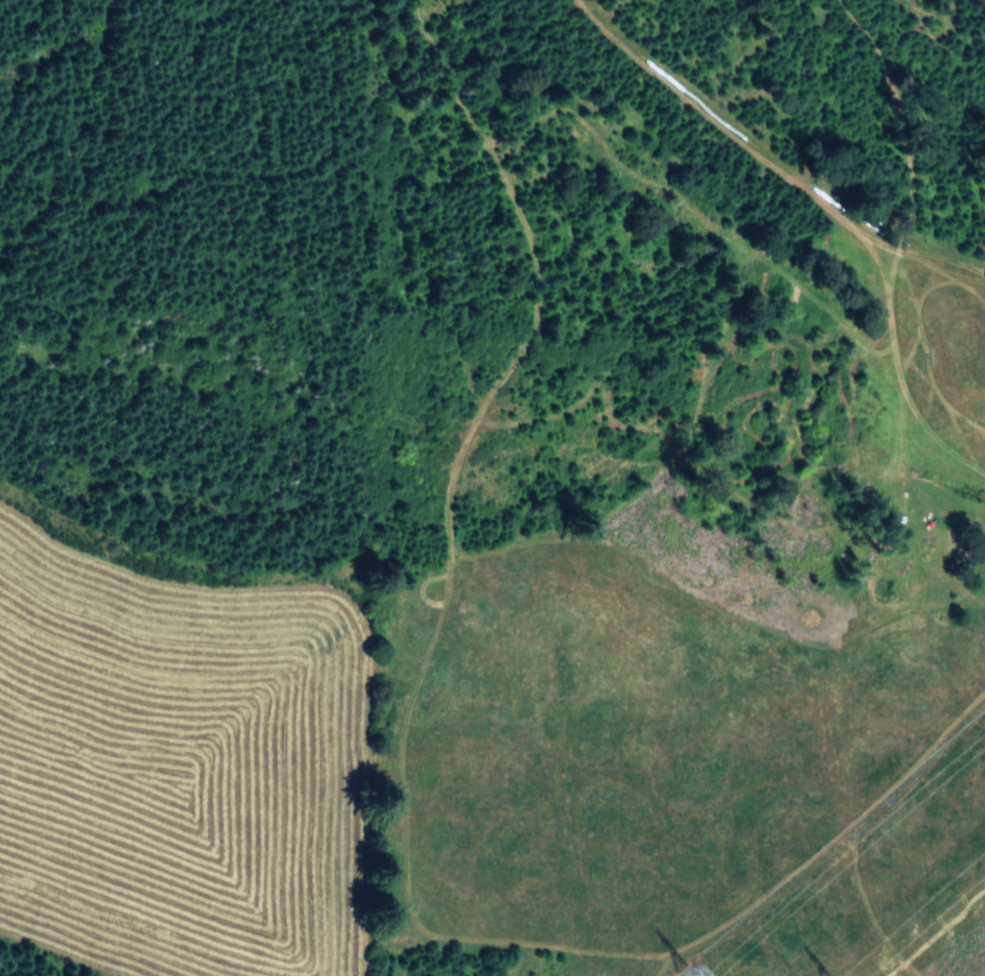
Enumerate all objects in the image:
crop: (178, 744)
power tower: (686, 973)

